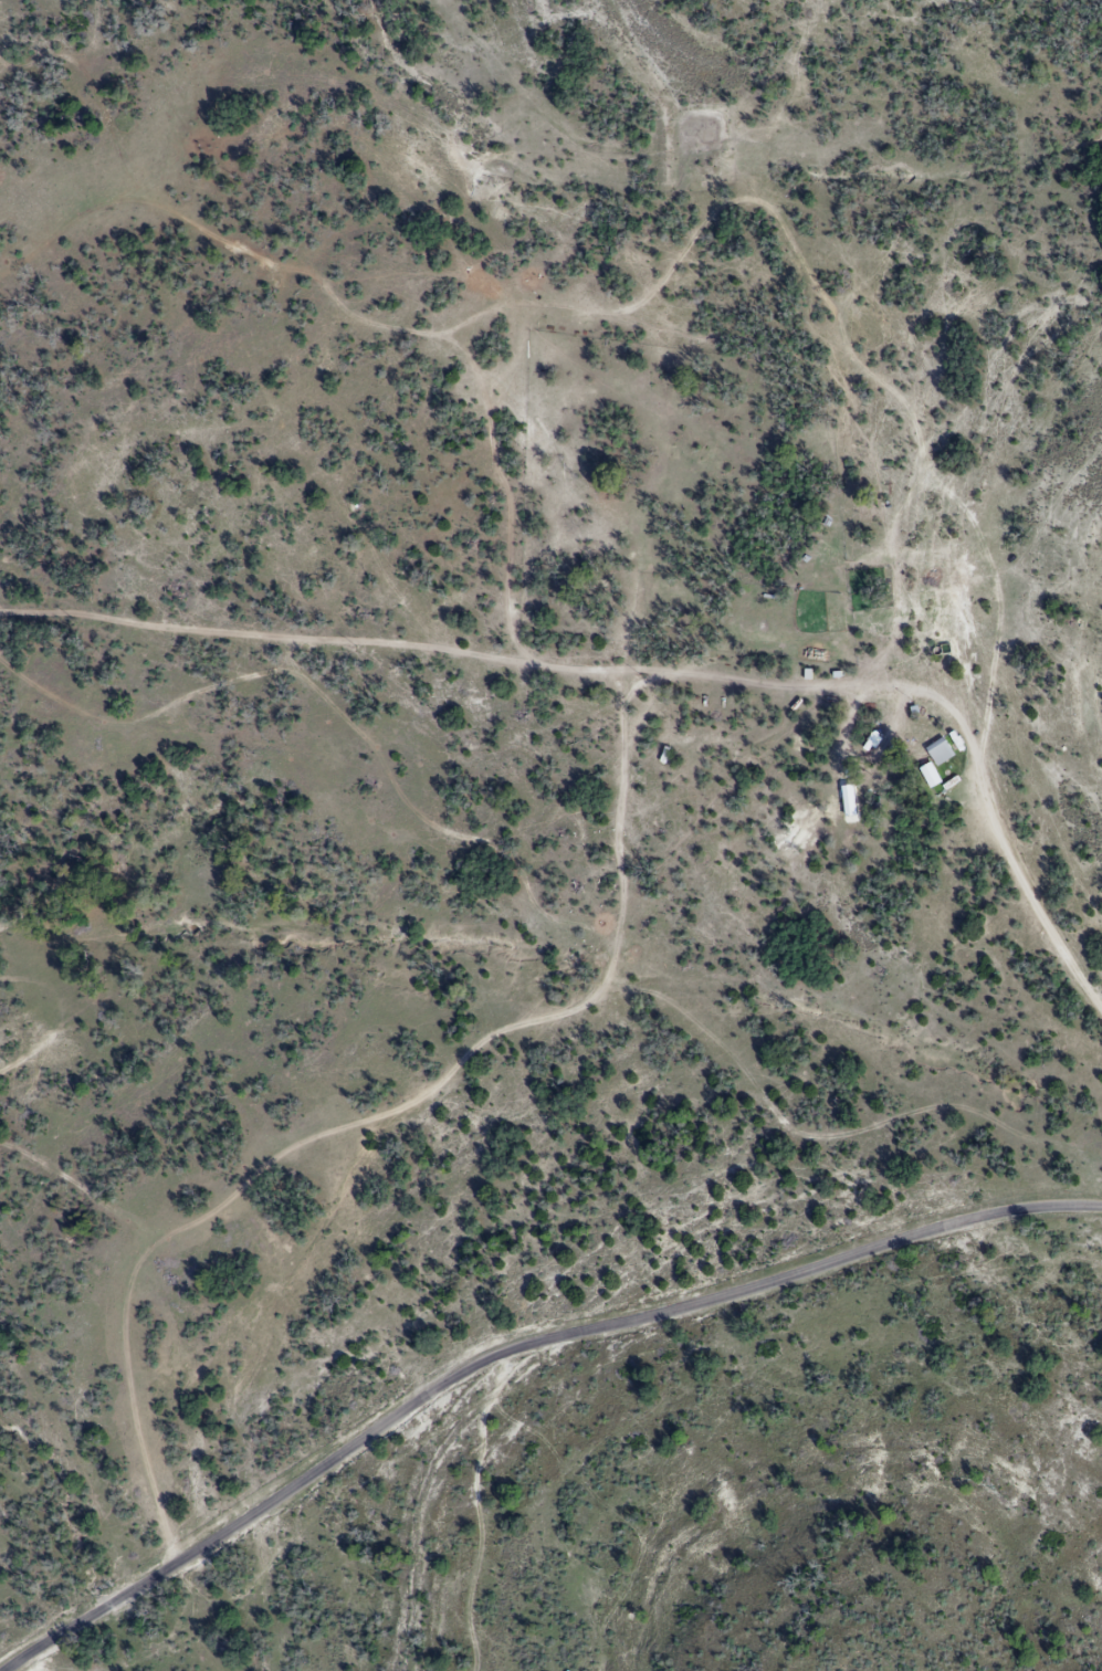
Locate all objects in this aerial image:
building: (942, 753)
road: (644, 827)
road: (1024, 898)
road: (521, 1351)

